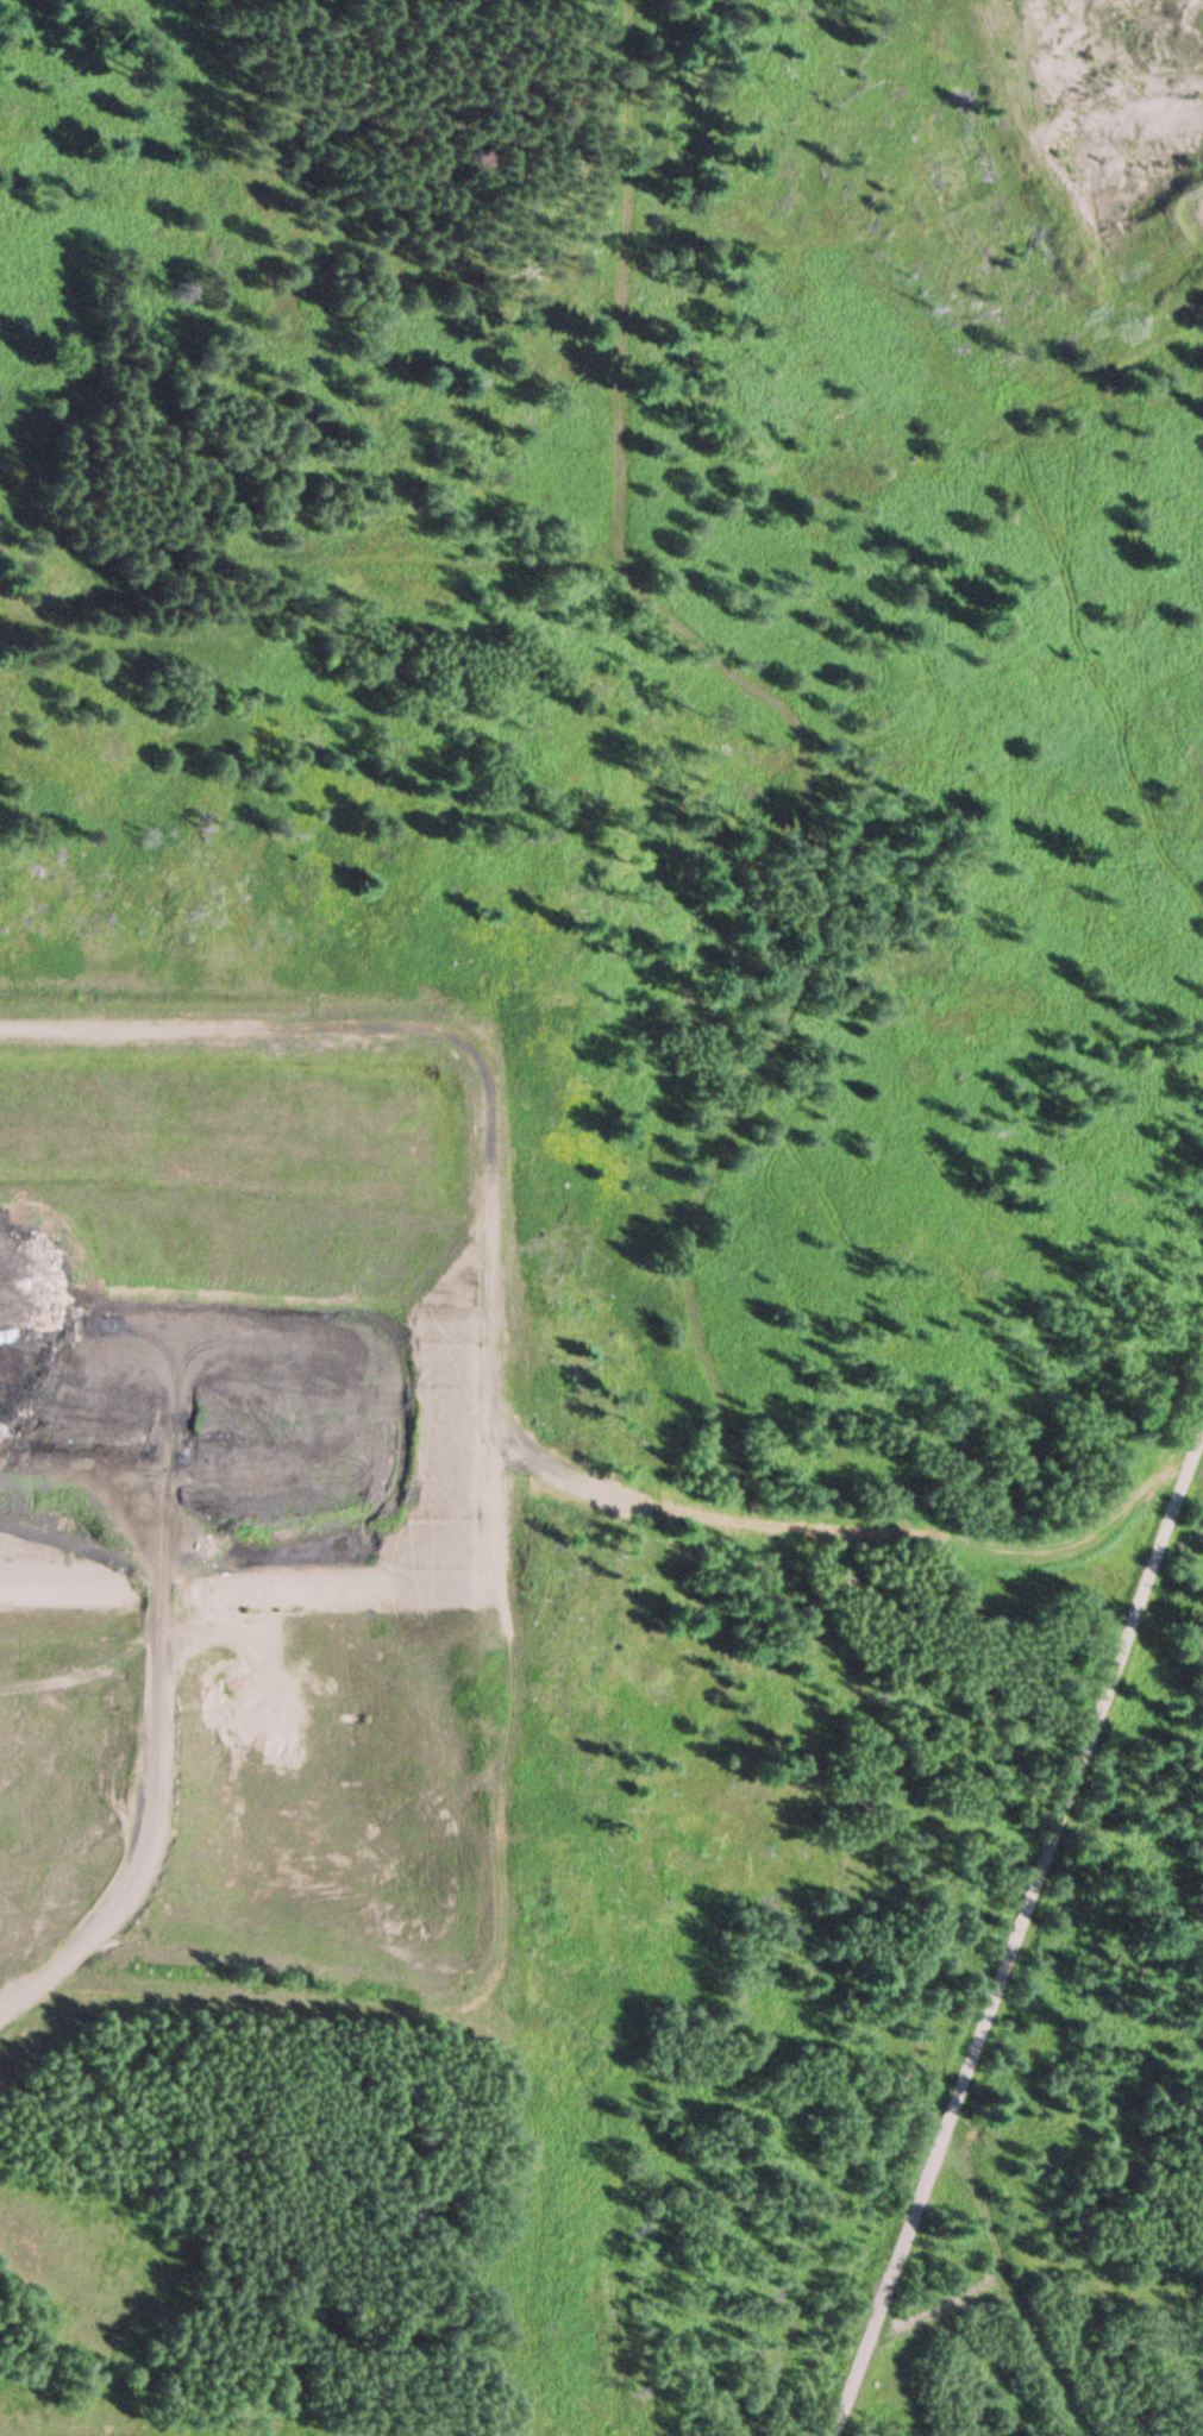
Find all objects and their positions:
road: (243, 1026)
road: (1021, 1942)

